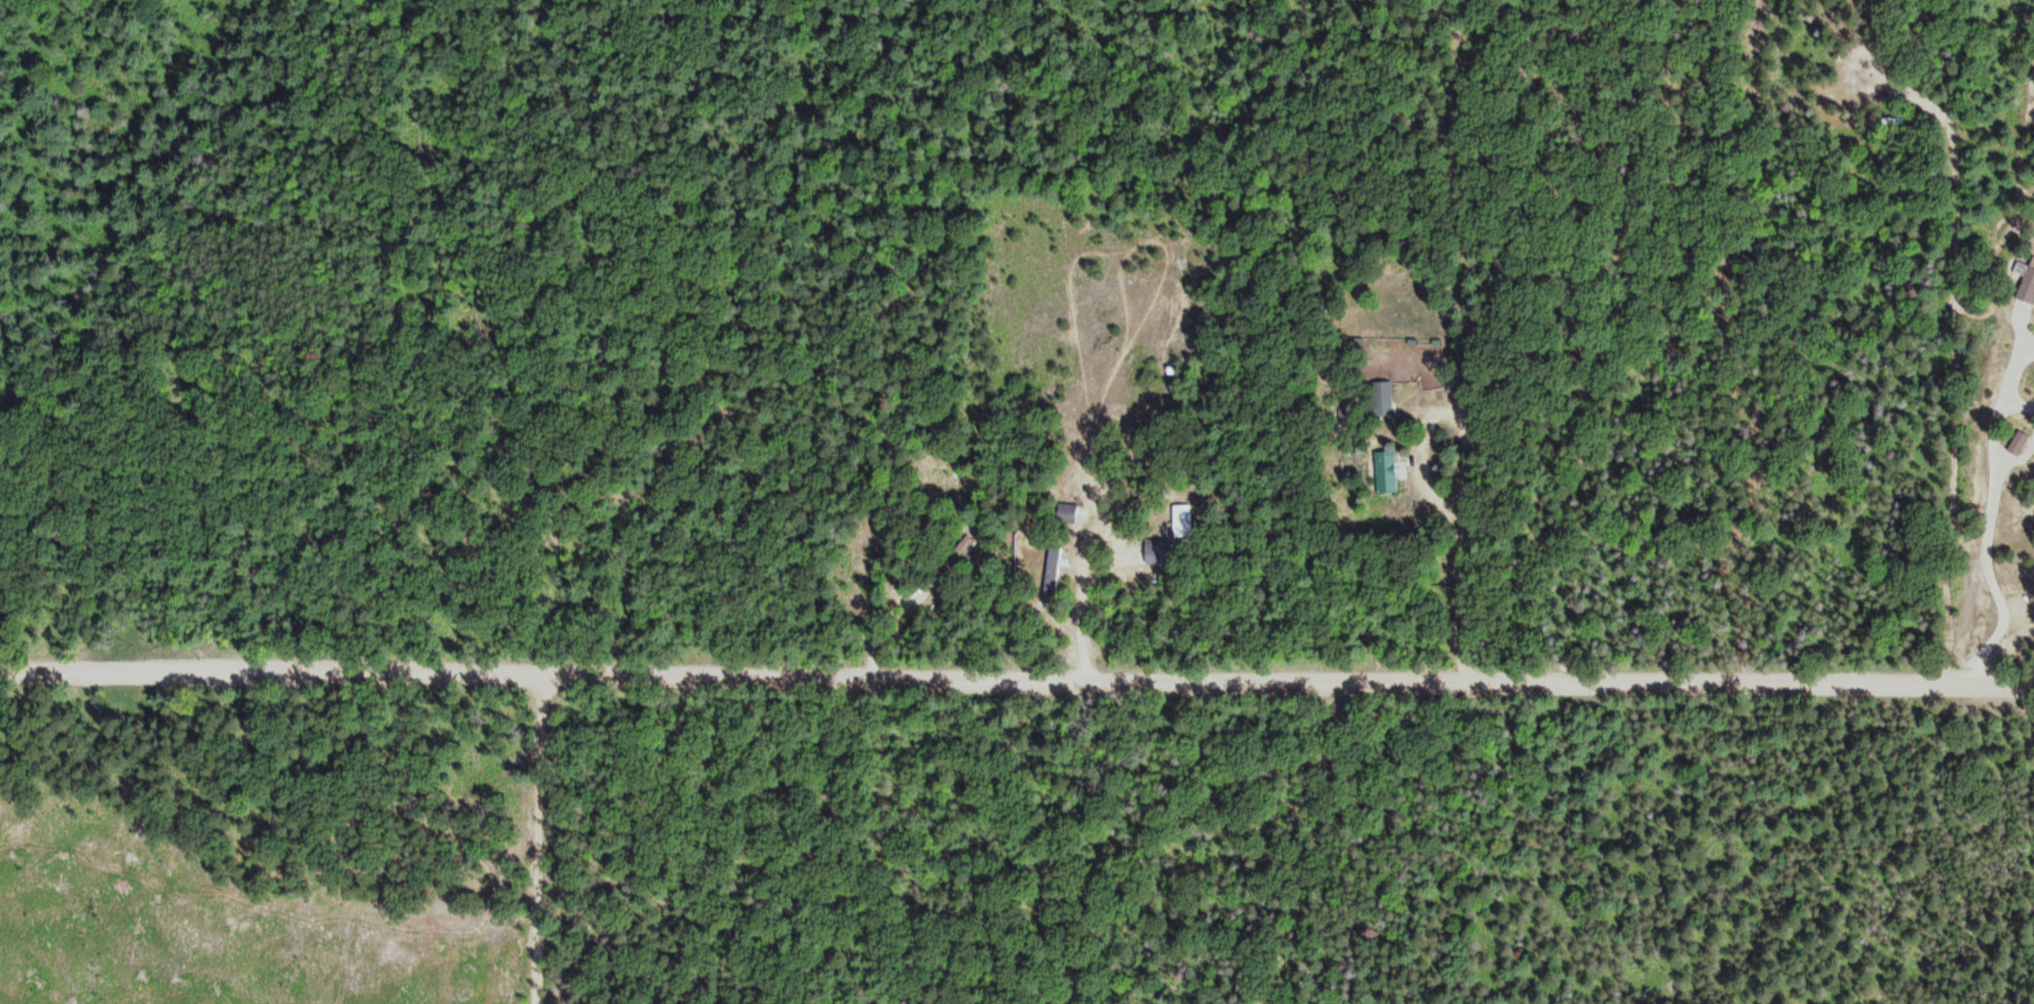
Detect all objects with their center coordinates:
building: (2027, 284)
building: (1382, 398)
building: (2017, 443)
building: (1385, 471)
building: (1067, 513)
building: (1183, 519)
building: (1158, 550)
building: (958, 553)
building: (1052, 571)
road: (1016, 677)
road: (543, 838)

